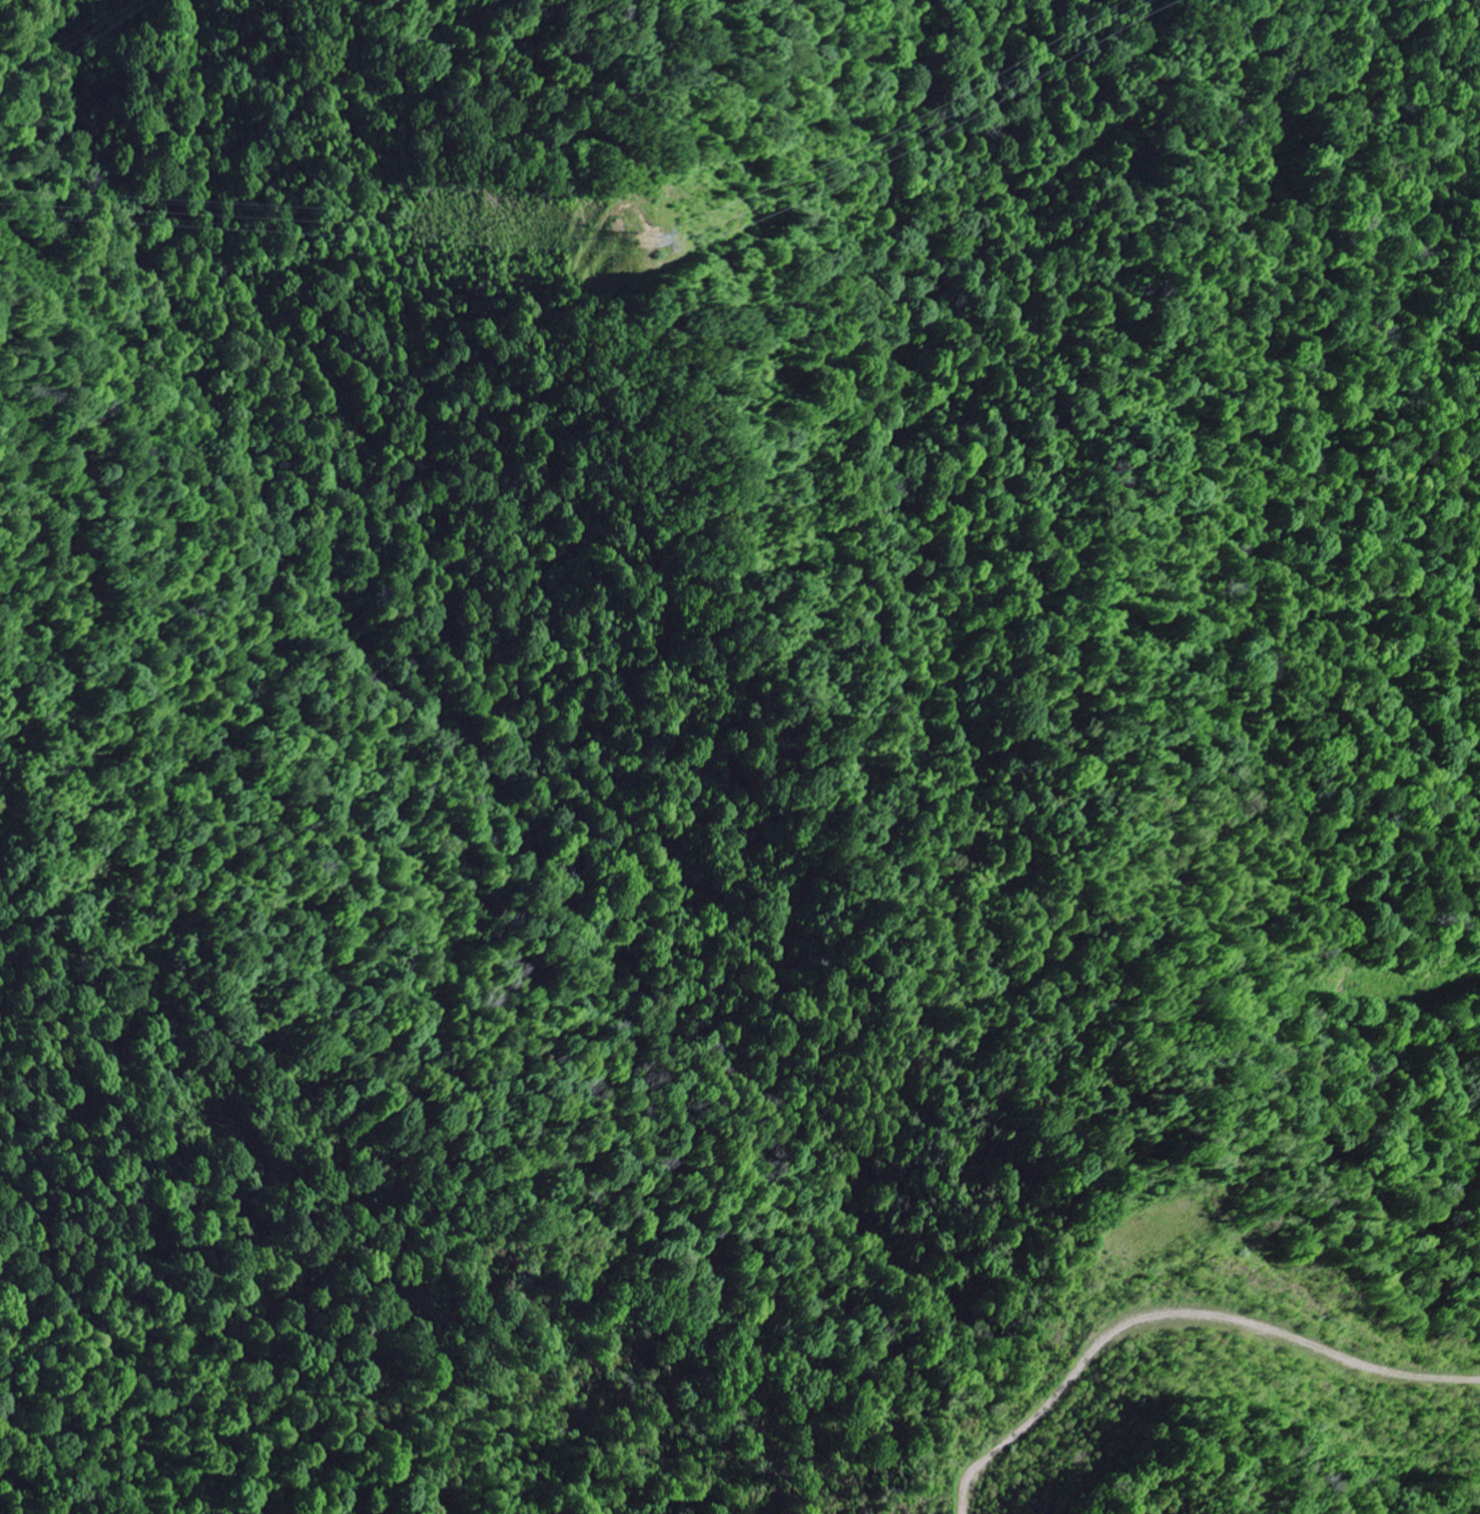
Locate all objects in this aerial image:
road: (1226, 1329)

